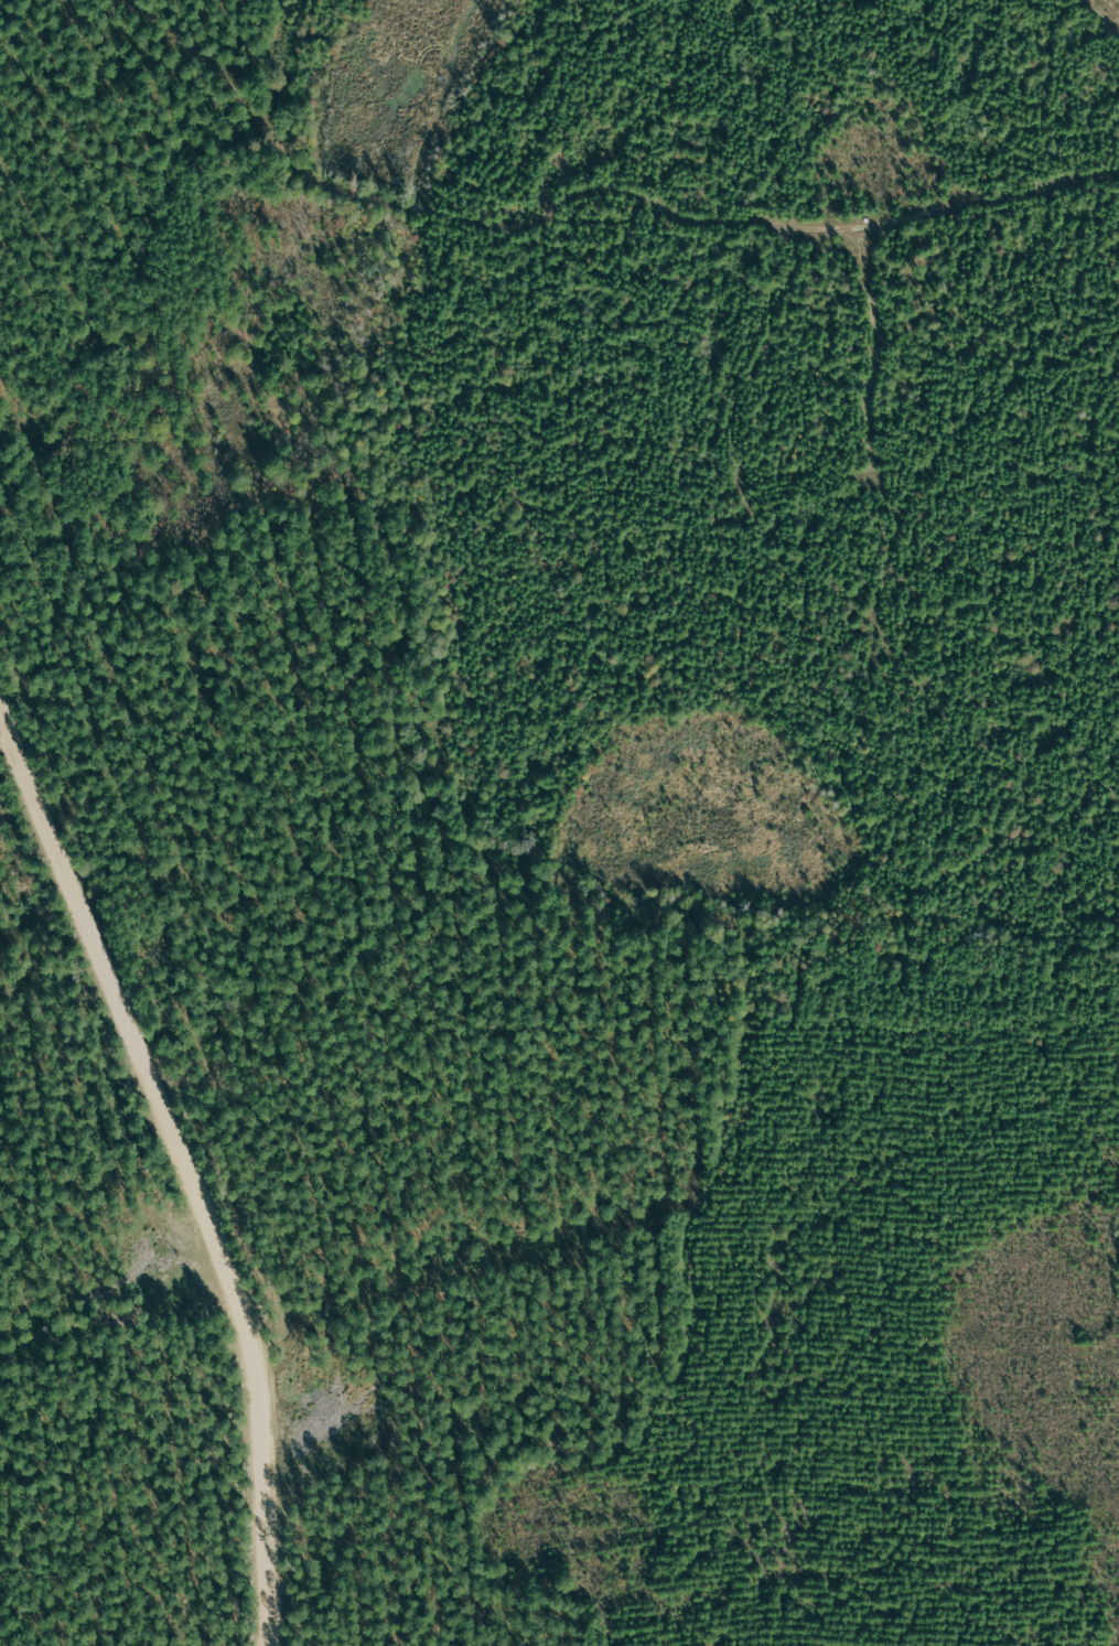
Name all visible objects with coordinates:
road: (182, 1128)

